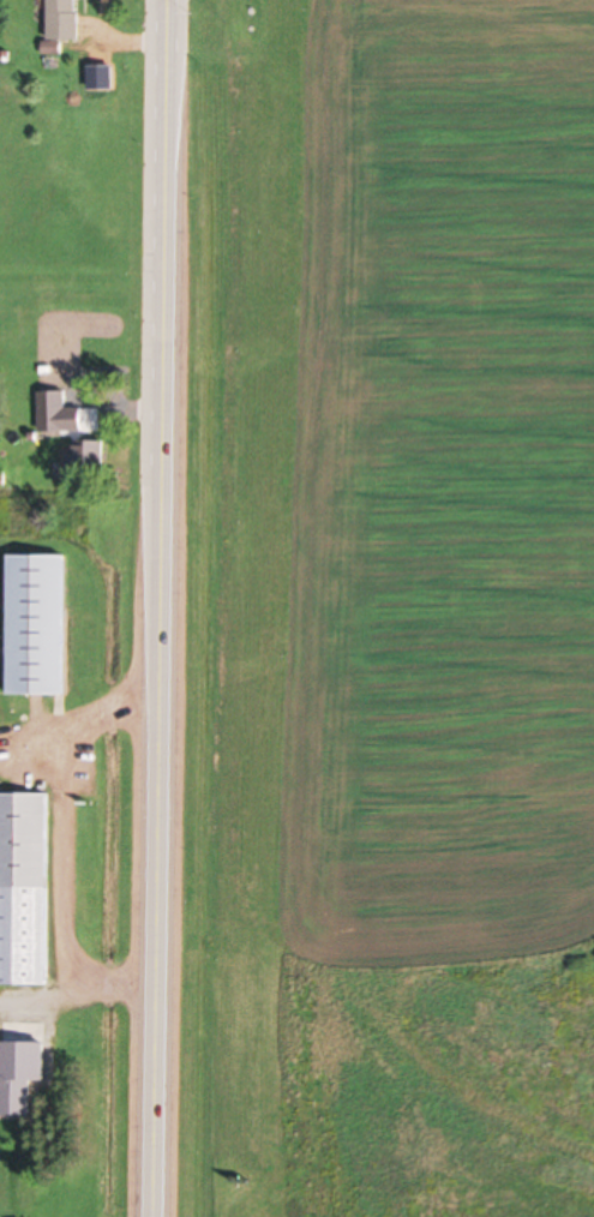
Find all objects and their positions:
building: (67, 22)
building: (62, 413)
building: (88, 463)
road: (163, 608)
building: (43, 623)
building: (26, 886)
building: (28, 1071)

